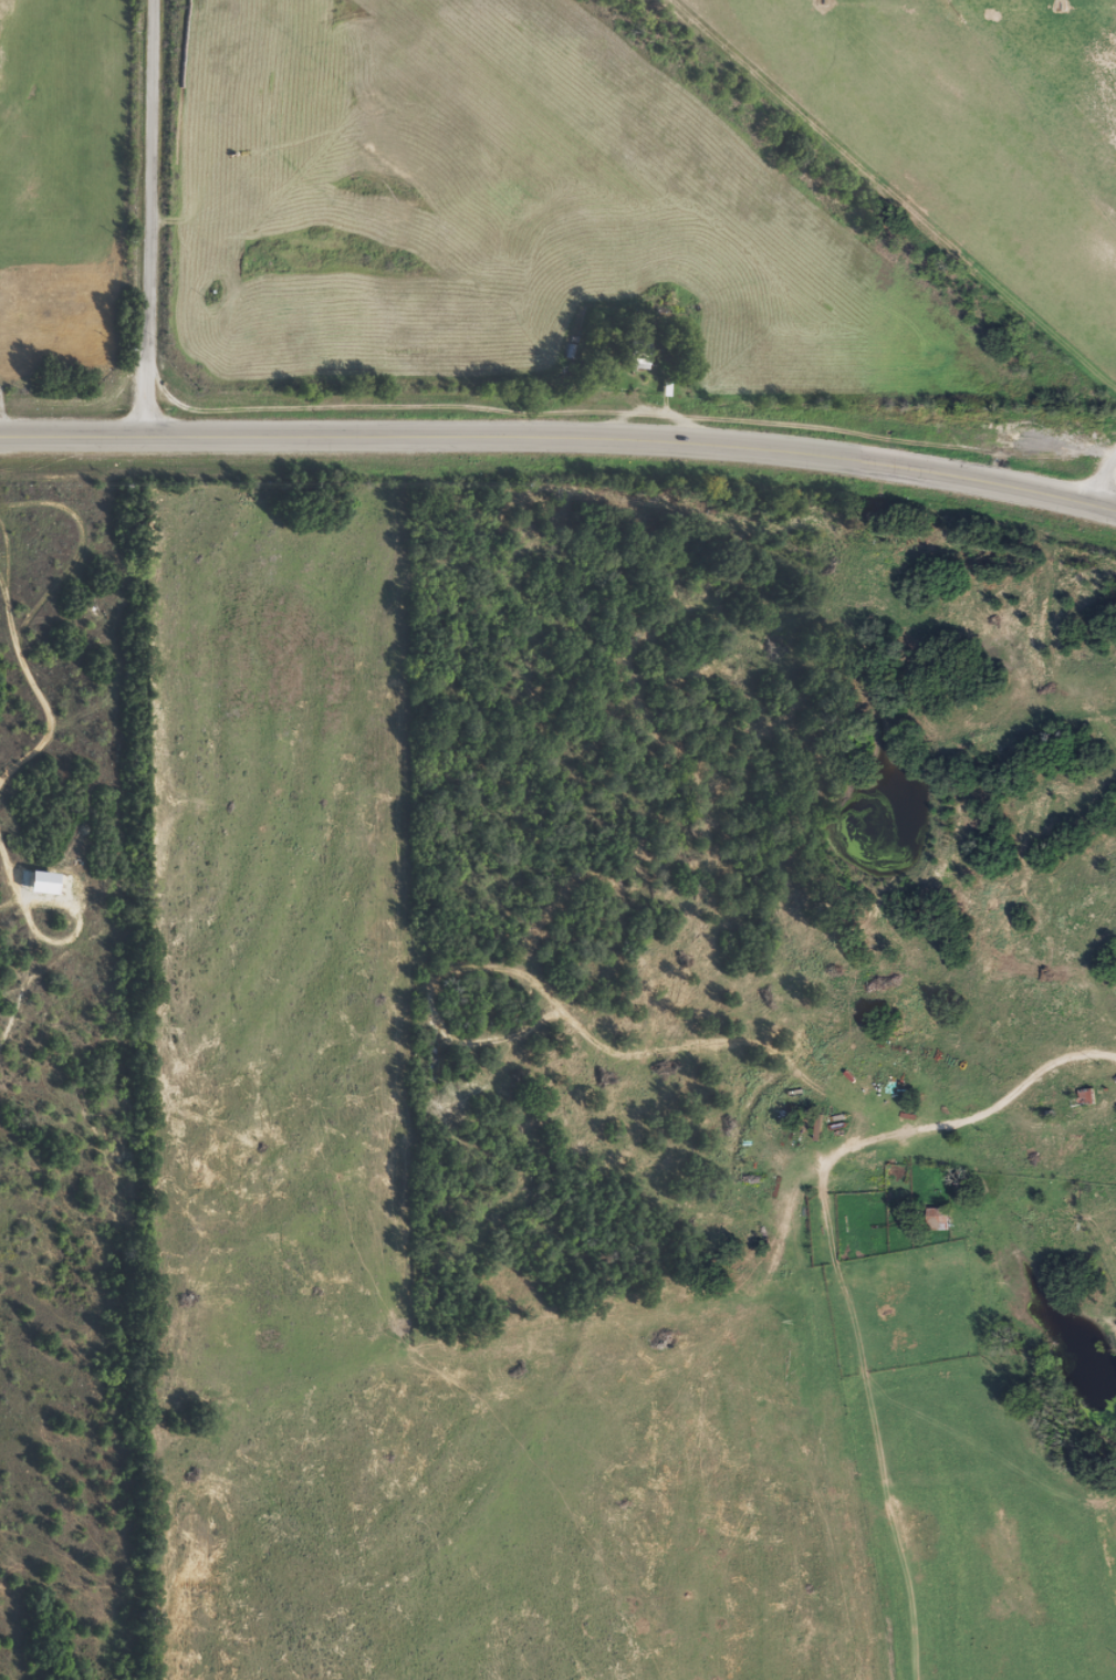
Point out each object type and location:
road: (171, 219)
road: (561, 439)
road: (1096, 487)
building: (46, 891)
road: (977, 1145)

